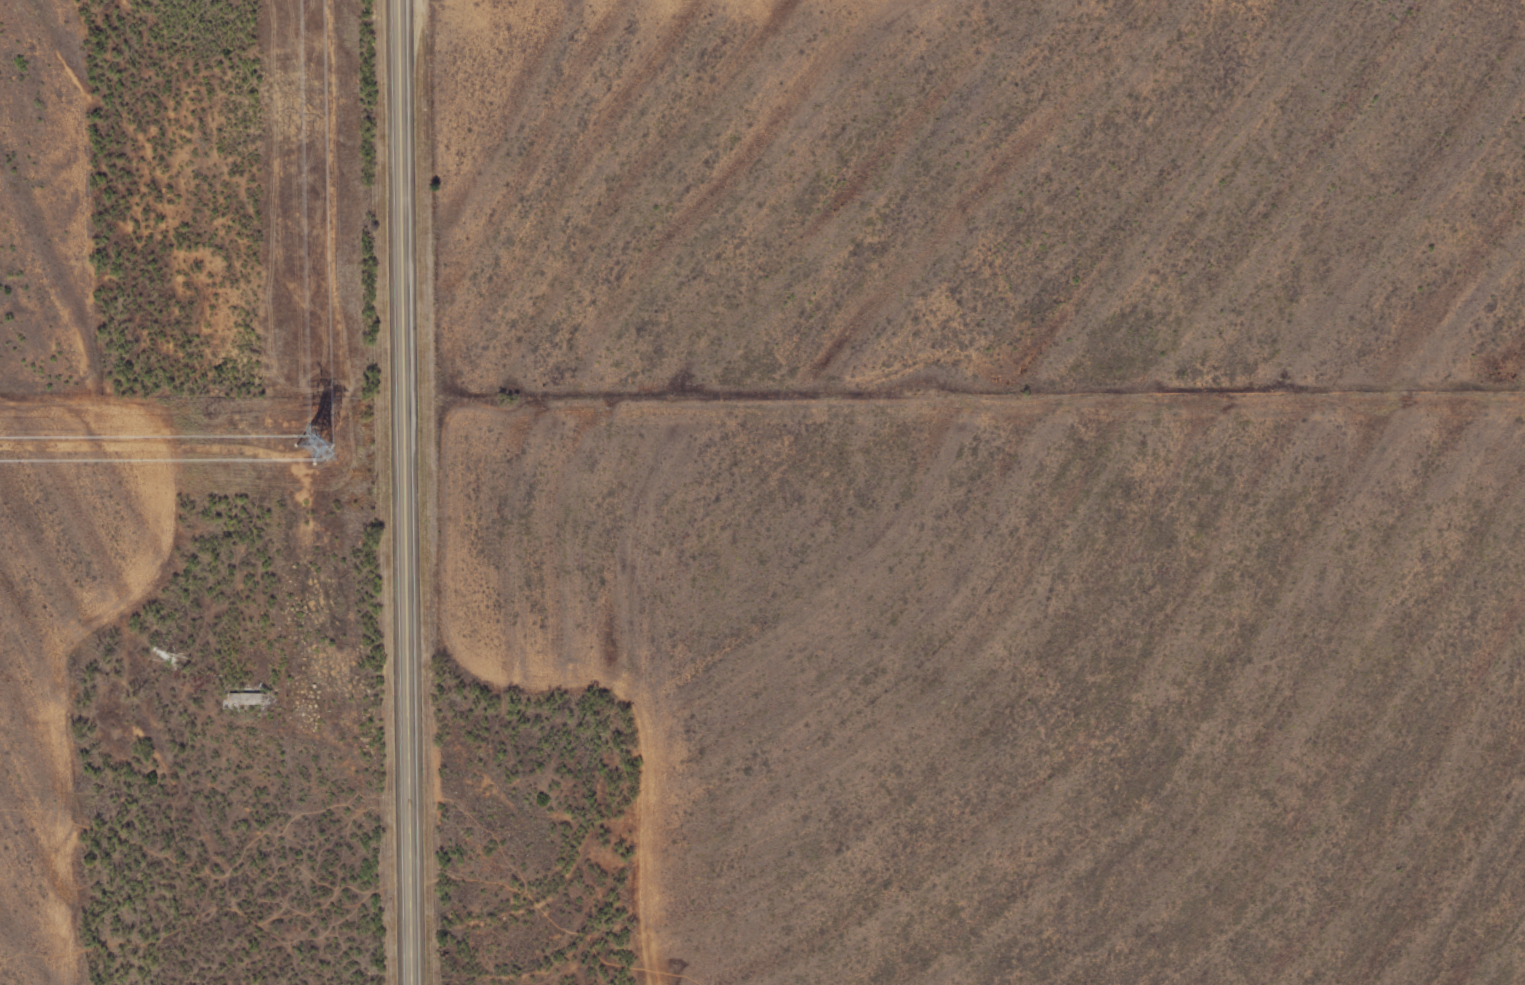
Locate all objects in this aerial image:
road: (410, 4)
power tower: (313, 446)
road: (409, 492)

